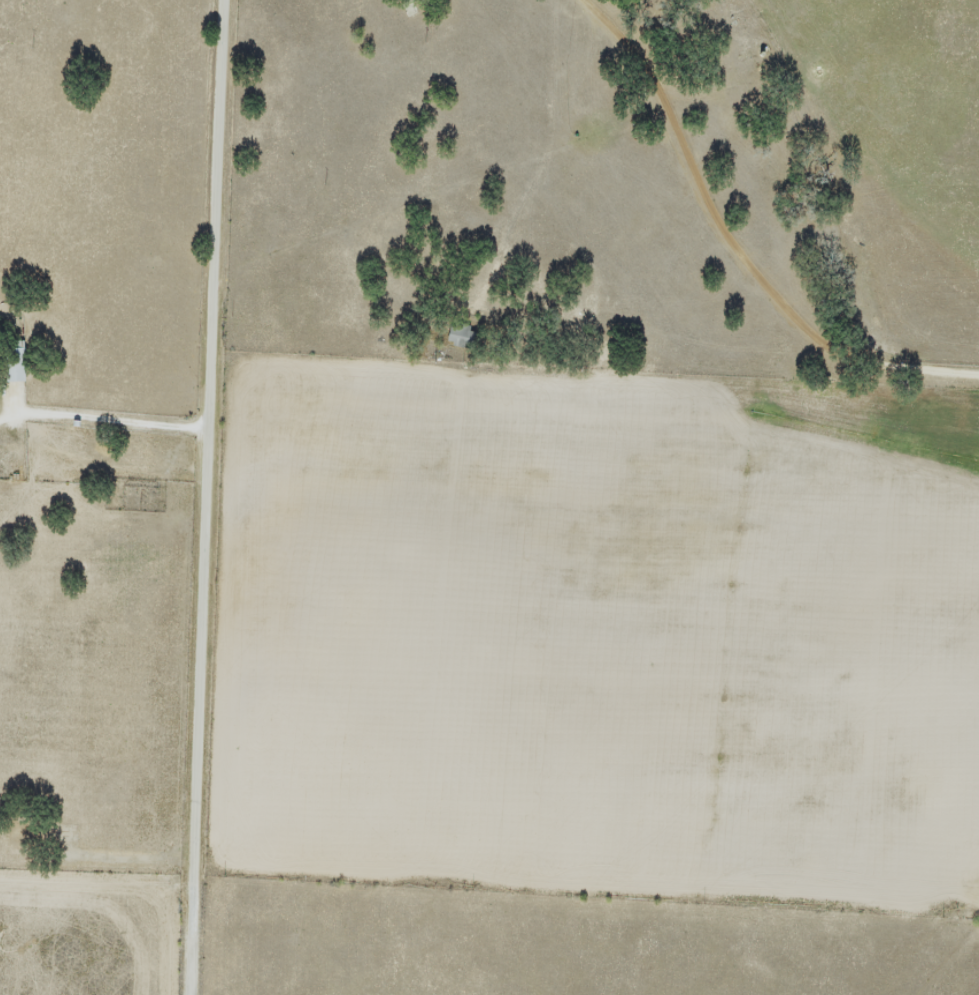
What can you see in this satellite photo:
road: (737, 245)
building: (461, 335)
building: (15, 361)
road: (207, 383)
road: (102, 418)
road: (209, 880)

